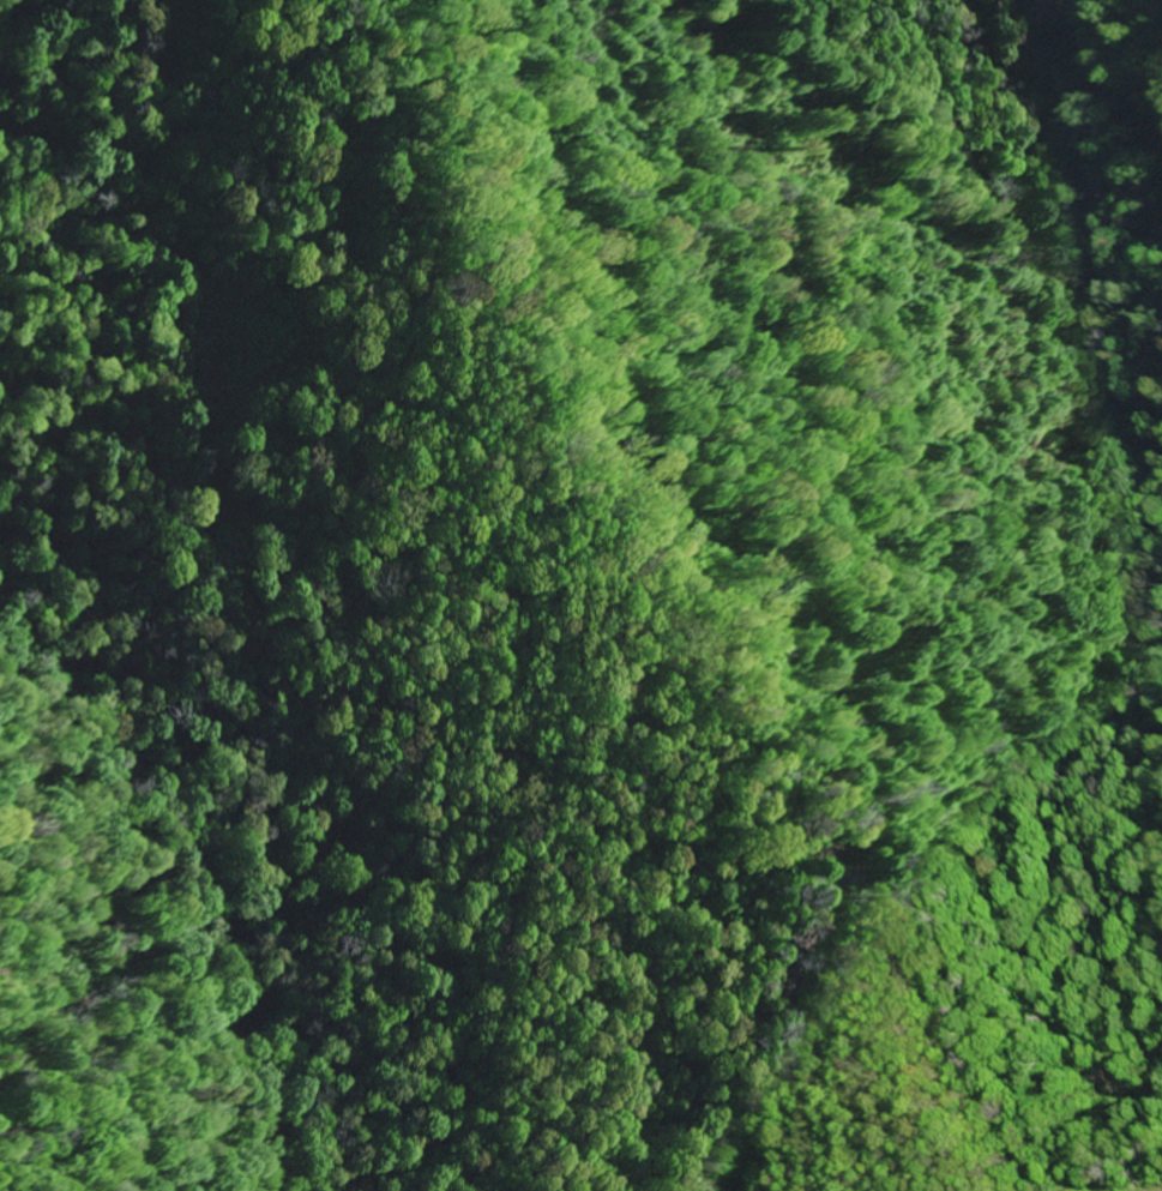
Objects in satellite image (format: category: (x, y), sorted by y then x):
road: (873, 894)

